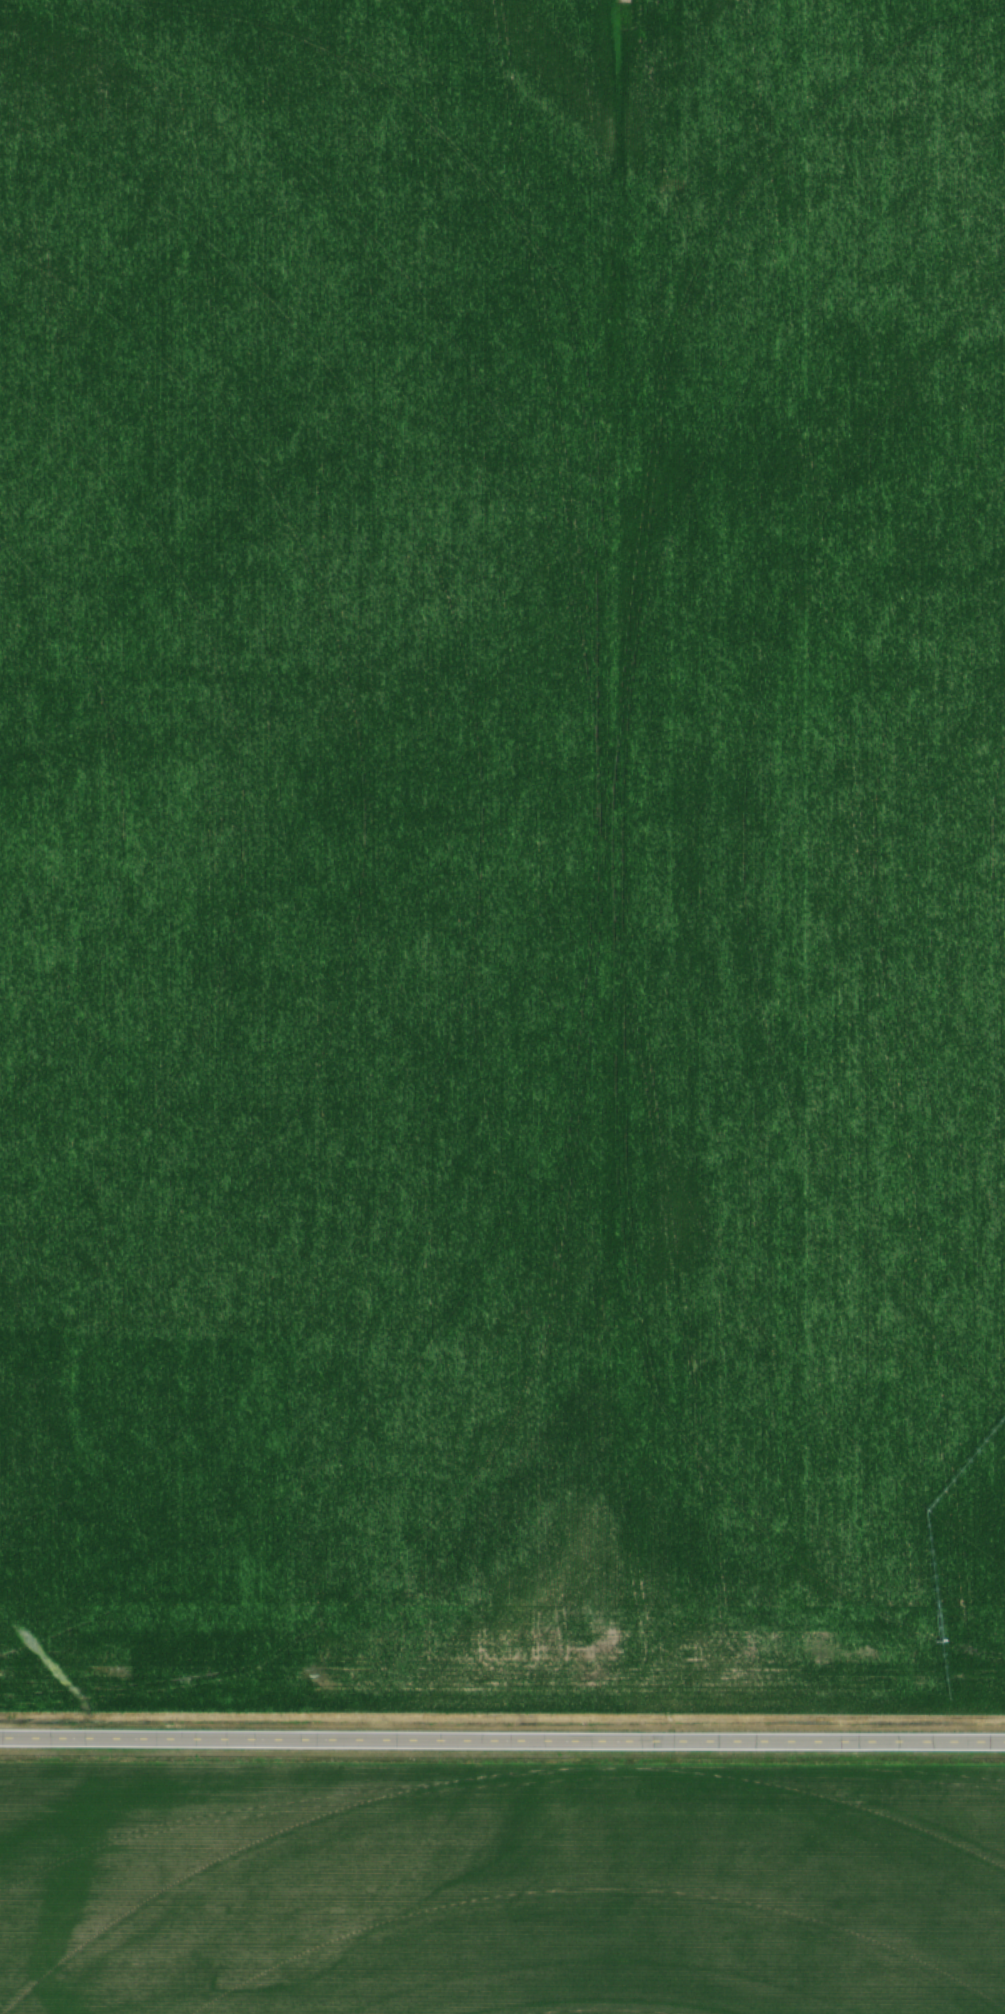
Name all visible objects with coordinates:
road: (502, 1744)

